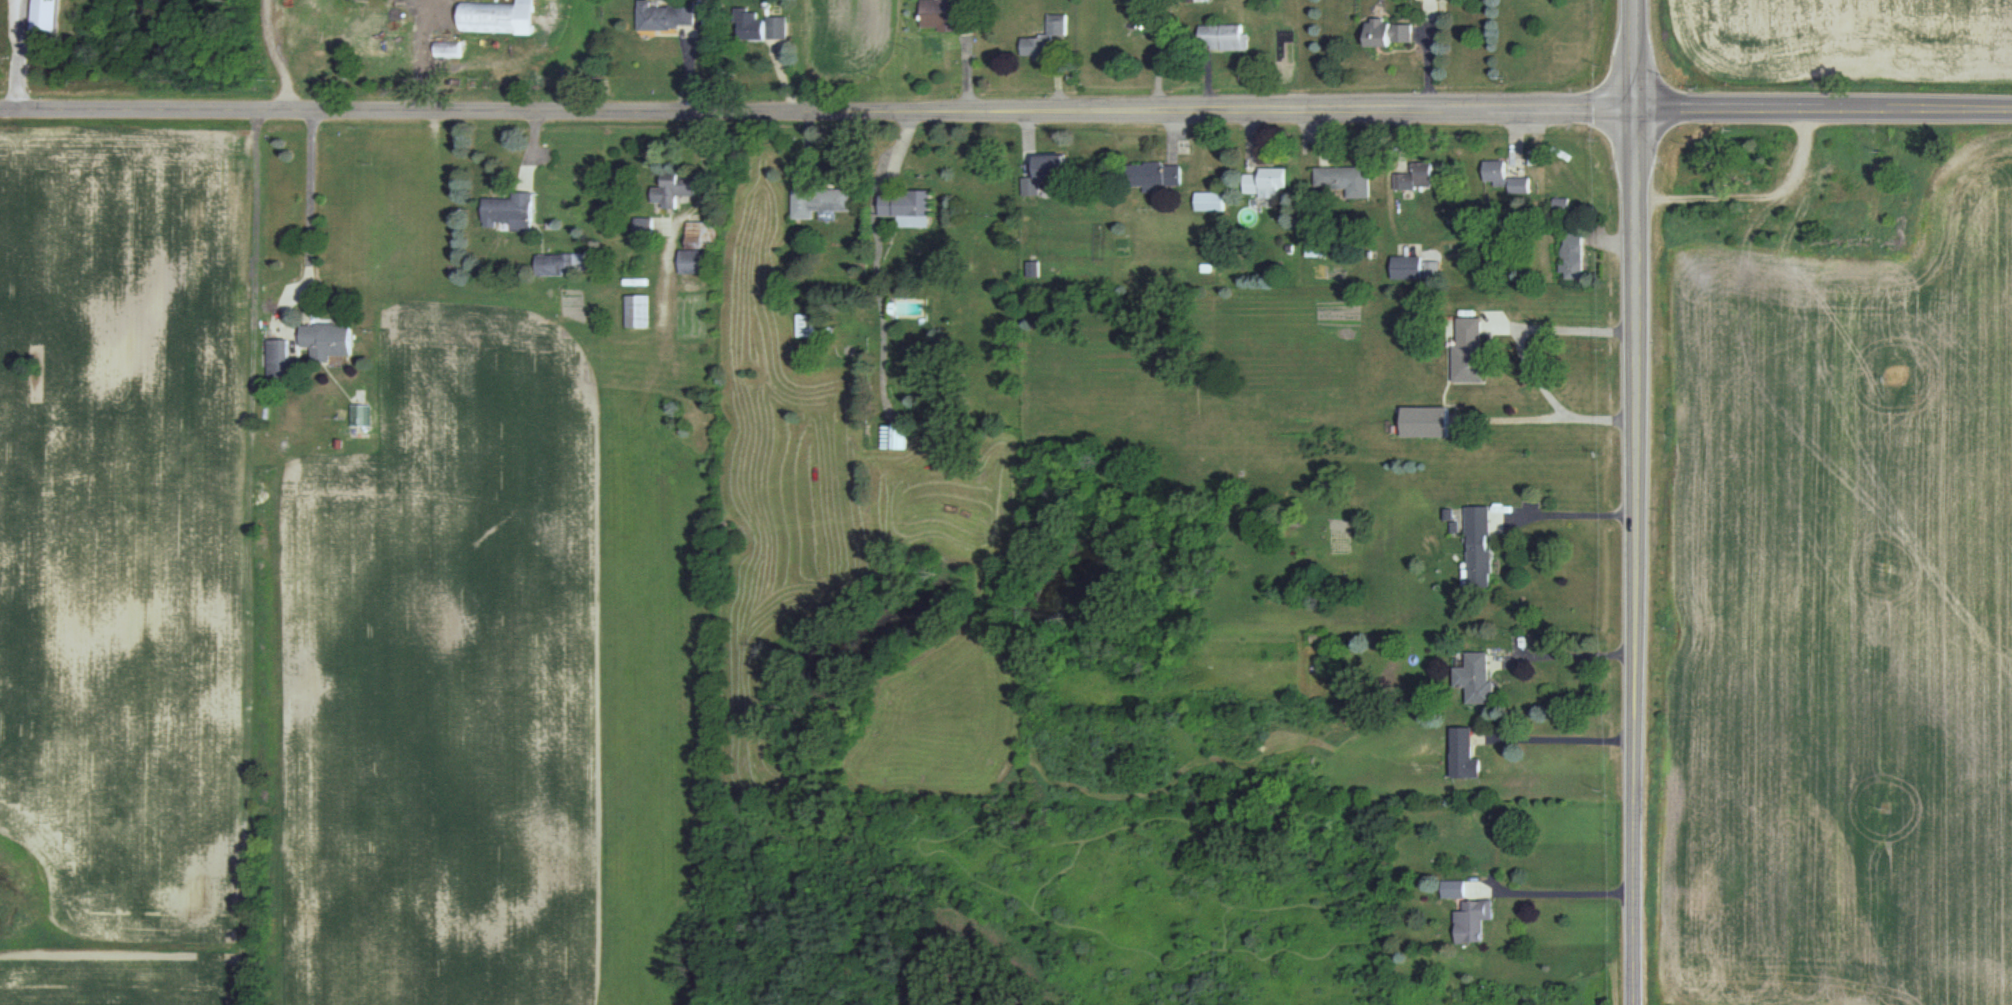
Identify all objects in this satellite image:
building: (1195, 0)
building: (941, 13)
building: (667, 14)
building: (499, 16)
building: (46, 20)
building: (762, 25)
building: (1388, 32)
building: (1225, 36)
building: (1046, 37)
building: (385, 38)
crop: (849, 42)
building: (450, 48)
road: (18, 54)
road: (277, 55)
road: (817, 110)
road: (1823, 111)
building: (1046, 172)
building: (1155, 175)
building: (1416, 176)
building: (1505, 176)
building: (1345, 179)
building: (1266, 182)
building: (675, 188)
building: (1210, 200)
road: (312, 201)
building: (821, 201)
building: (1561, 202)
building: (908, 207)
road: (1635, 209)
building: (511, 211)
building: (645, 226)
building: (702, 234)
building: (1315, 244)
building: (1572, 255)
building: (696, 261)
building: (555, 264)
building: (1407, 267)
building: (1033, 268)
building: (639, 310)
building: (807, 324)
building: (328, 339)
building: (1468, 350)
road: (1523, 355)
building: (280, 360)
building: (360, 414)
building: (1425, 421)
building: (895, 435)
road: (1570, 513)
road: (1635, 536)
building: (1479, 546)
crop: (1841, 630)
road: (1574, 654)
building: (1475, 678)
road: (1555, 738)
building: (1463, 753)
road: (1636, 829)
building: (1453, 888)
road: (1565, 892)
building: (1472, 920)

